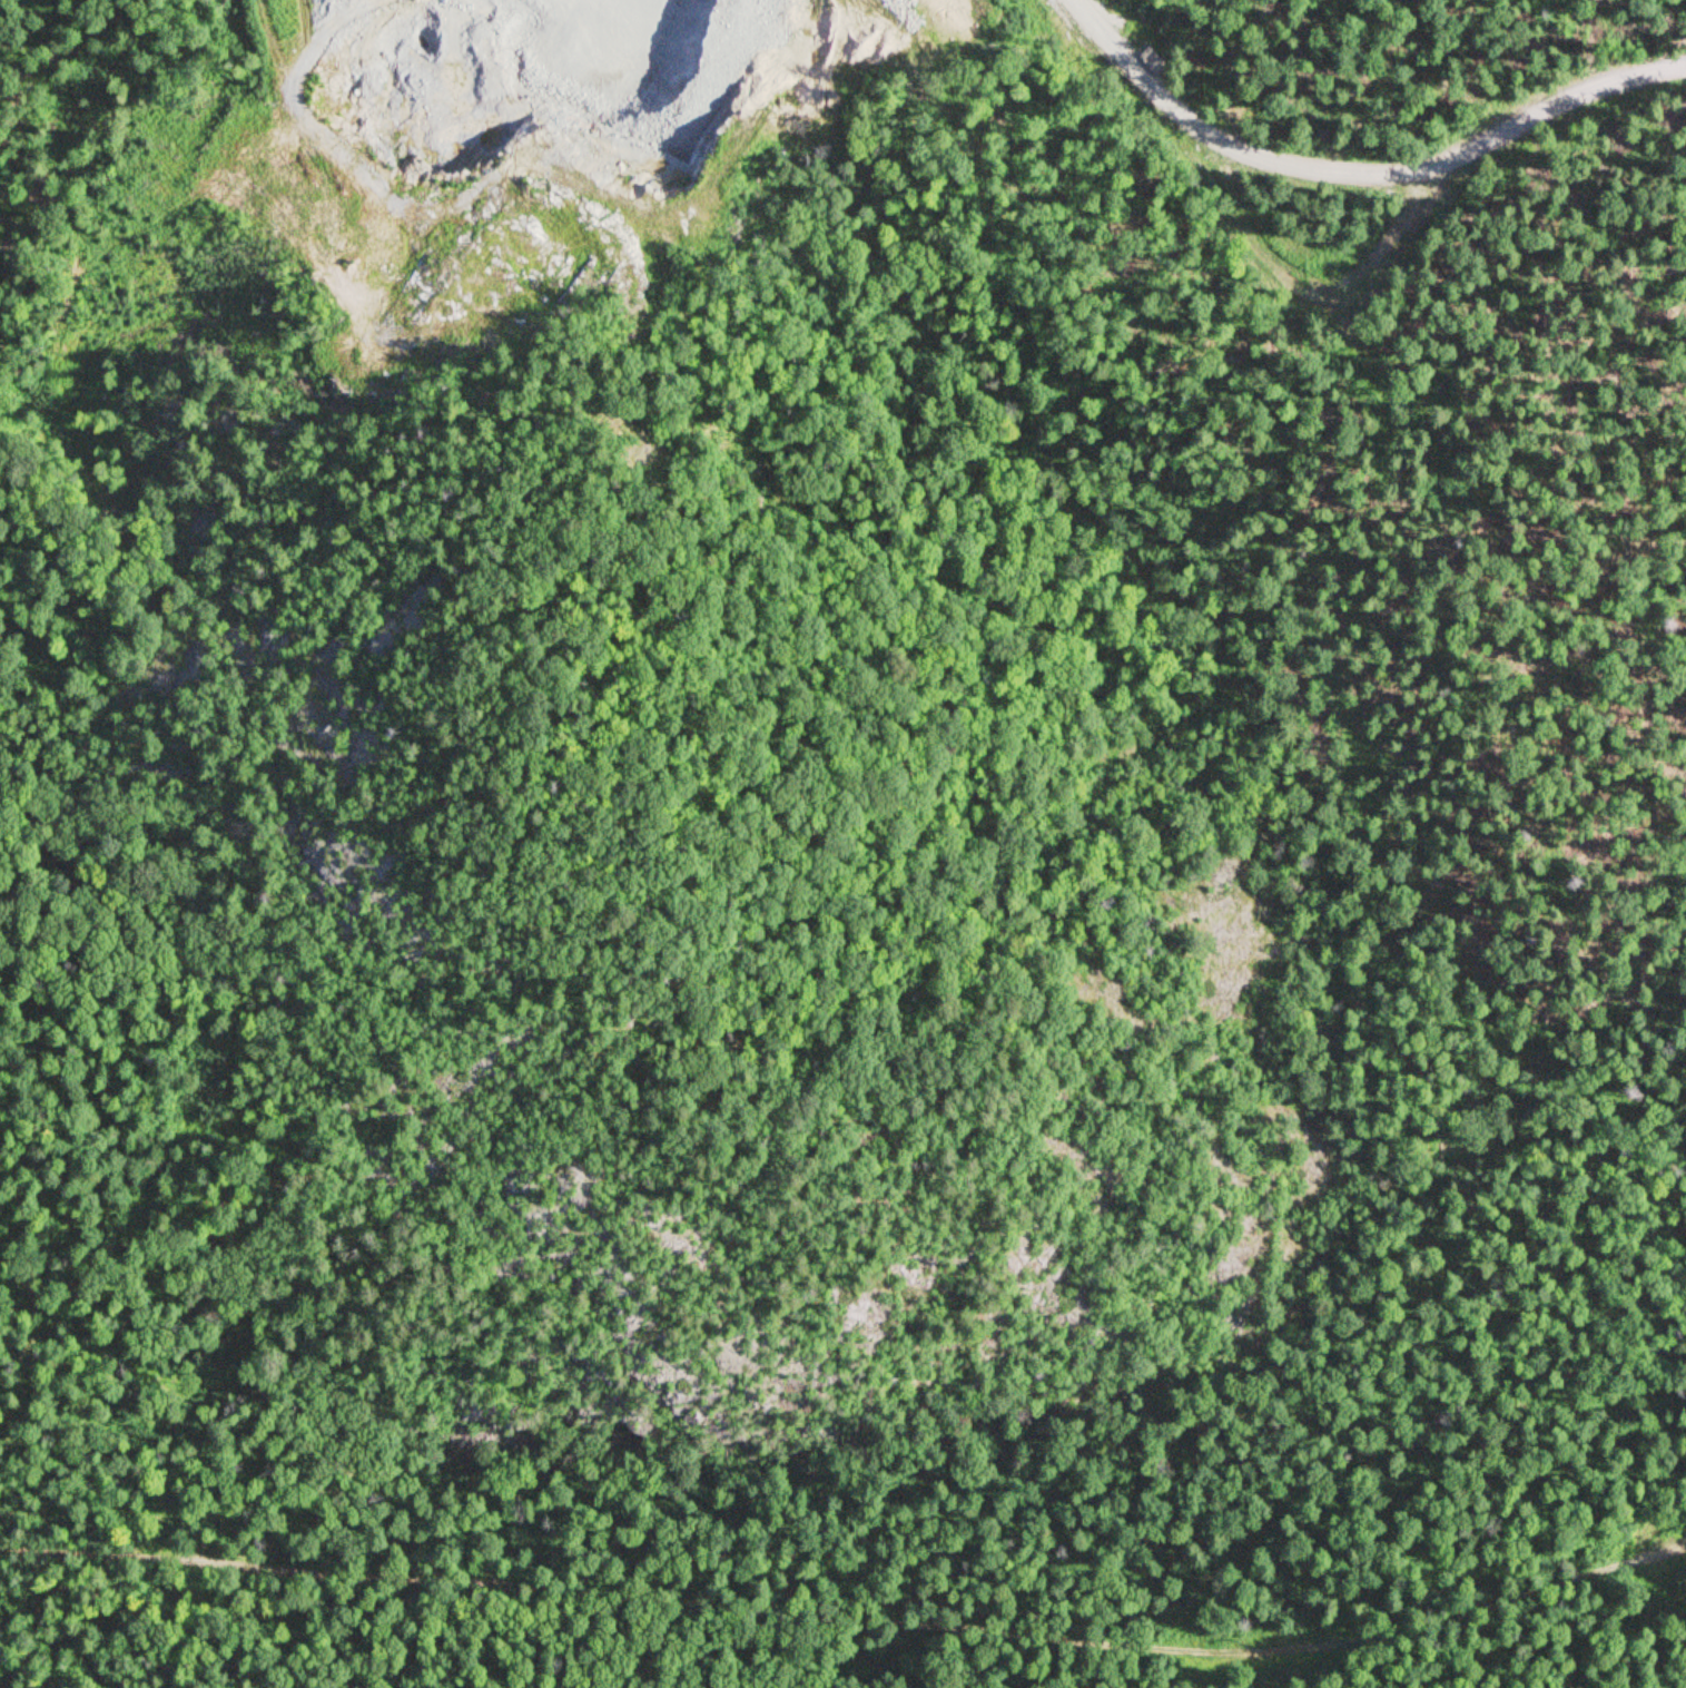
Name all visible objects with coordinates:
quarry: (589, 75)
road: (1354, 173)
road: (847, 1650)

